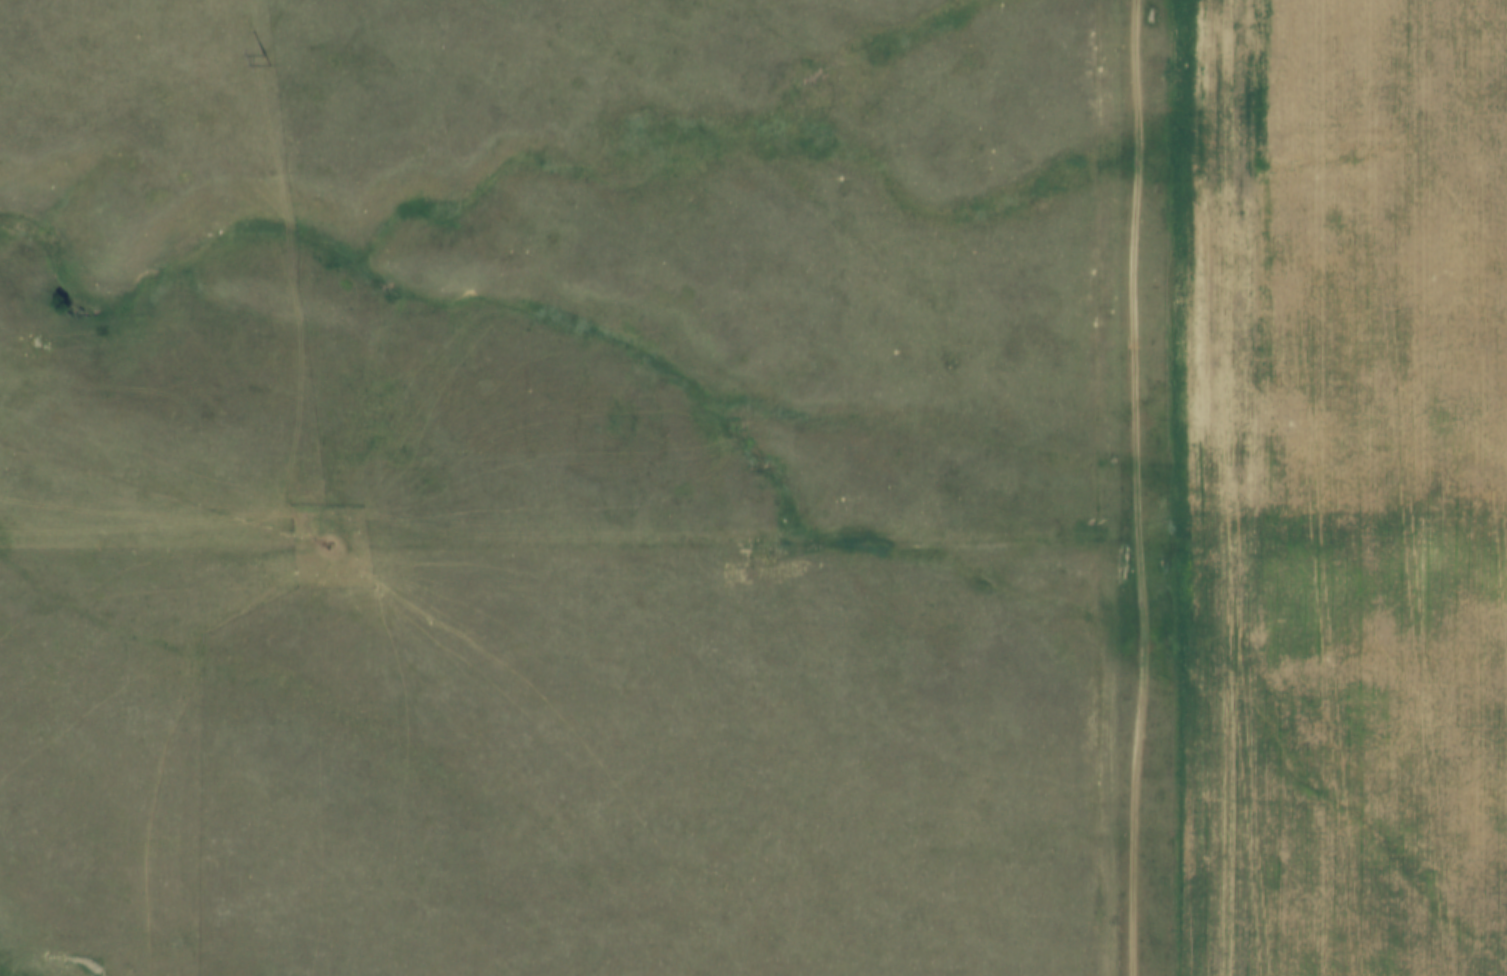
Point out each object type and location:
power tower: (267, 59)
road: (1132, 488)

